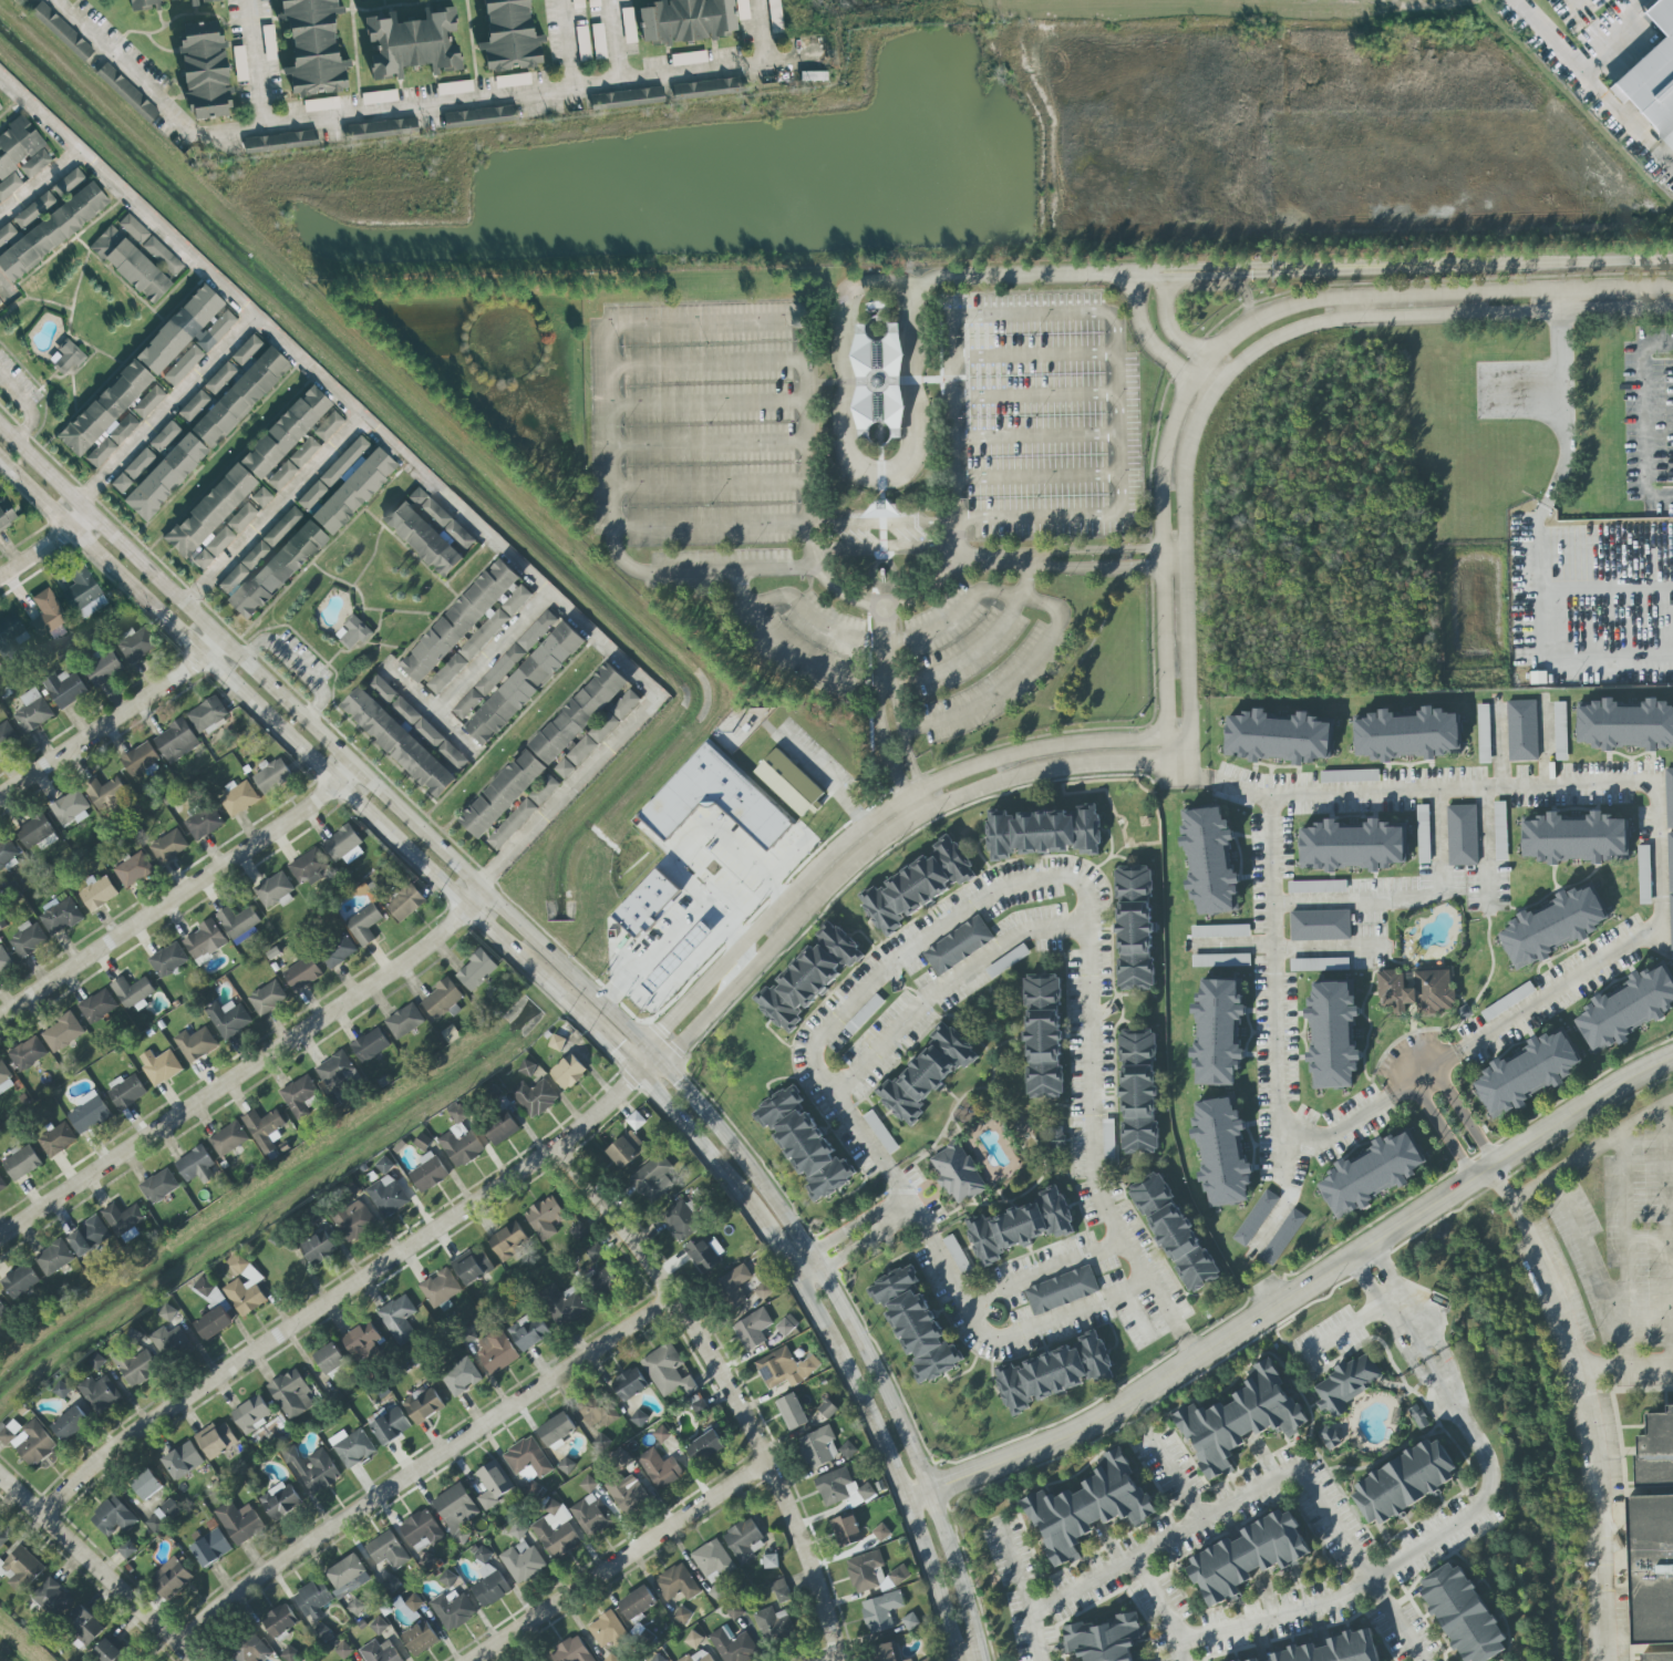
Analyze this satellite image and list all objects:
building: (199, 1)
building: (143, 4)
building: (686, 17)
building: (628, 24)
building: (61, 30)
building: (509, 35)
road: (621, 41)
building: (269, 42)
building: (412, 42)
building: (582, 42)
road: (567, 44)
building: (313, 47)
building: (688, 56)
road: (254, 64)
building: (205, 70)
building: (813, 75)
building: (1652, 75)
building: (512, 79)
road: (1590, 85)
building: (454, 86)
building: (703, 87)
building: (126, 92)
building: (379, 96)
building: (627, 97)
building: (320, 103)
building: (0, 107)
road: (416, 110)
building: (479, 115)
building: (380, 128)
building: (280, 141)
building: (22, 148)
building: (68, 182)
road: (39, 183)
building: (9, 185)
building: (34, 209)
building: (52, 230)
building: (7, 234)
building: (151, 246)
building: (131, 264)
road: (1418, 264)
road: (1152, 271)
road: (1021, 274)
road: (4, 291)
road: (851, 291)
road: (1432, 293)
road: (1248, 297)
road: (761, 299)
building: (0, 301)
road: (1355, 307)
road: (1433, 316)
road: (1168, 323)
building: (187, 329)
road: (1146, 333)
road: (1657, 344)
building: (246, 350)
road: (1034, 354)
building: (66, 355)
road: (703, 360)
building: (183, 364)
road: (1200, 367)
road: (1217, 368)
building: (219, 378)
building: (878, 379)
road: (934, 379)
road: (878, 380)
road: (1206, 382)
road: (34, 393)
road: (1034, 395)
building: (240, 396)
building: (148, 401)
road: (704, 402)
building: (194, 405)
road: (165, 410)
building: (106, 415)
parking lot: (1042, 419)
road: (1644, 420)
parking lot: (1649, 423)
building: (328, 425)
parking lot: (700, 427)
building: (285, 431)
building: (164, 435)
road: (1036, 435)
road: (705, 442)
road: (1153, 452)
road: (1117, 453)
building: (133, 470)
road: (910, 471)
road: (422, 473)
building: (165, 475)
road: (880, 475)
road: (1037, 476)
building: (352, 482)
road: (708, 483)
building: (311, 495)
road: (1659, 495)
building: (260, 496)
road: (610, 503)
road: (1543, 505)
road: (276, 509)
road: (819, 510)
building: (6, 514)
road: (76, 516)
road: (946, 516)
building: (241, 517)
building: (209, 518)
road: (708, 523)
building: (281, 526)
building: (431, 532)
road: (823, 536)
road: (959, 536)
road: (942, 547)
road: (34, 548)
road: (888, 553)
road: (1161, 555)
building: (244, 567)
building: (278, 569)
road: (1181, 570)
road: (1026, 586)
road: (742, 588)
building: (83, 592)
road: (1030, 599)
building: (516, 601)
road: (890, 607)
building: (47, 612)
building: (461, 620)
road: (814, 620)
road: (936, 628)
building: (354, 632)
building: (484, 635)
building: (9, 637)
road: (900, 637)
building: (137, 644)
road: (214, 644)
road: (493, 657)
parking lot: (909, 658)
road: (309, 659)
road: (1570, 662)
road: (804, 663)
road: (956, 663)
building: (504, 666)
building: (104, 669)
building: (446, 674)
building: (1538, 678)
building: (525, 684)
building: (66, 690)
road: (982, 701)
road: (886, 702)
road: (903, 709)
road: (433, 711)
building: (33, 712)
building: (579, 713)
building: (207, 715)
building: (417, 723)
road: (102, 724)
road: (281, 725)
building: (1625, 725)
building: (1522, 731)
building: (1560, 731)
road: (323, 732)
building: (598, 734)
building: (1484, 734)
building: (7, 735)
building: (1406, 735)
building: (1277, 737)
building: (176, 742)
building: (399, 743)
road: (998, 746)
road: (1177, 747)
building: (140, 760)
building: (1350, 776)
building: (272, 777)
building: (789, 783)
road: (1593, 786)
building: (104, 792)
building: (503, 794)
building: (1669, 797)
building: (238, 798)
road: (923, 799)
road: (942, 802)
building: (70, 807)
building: (712, 809)
building: (524, 813)
building: (204, 823)
road: (868, 825)
building: (1500, 830)
building: (35, 833)
building: (1043, 833)
building: (1424, 834)
building: (1463, 835)
road: (694, 836)
building: (1574, 838)
building: (168, 846)
building: (345, 846)
building: (1351, 847)
building: (7, 852)
building: (1209, 862)
building: (309, 867)
building: (133, 869)
building: (1644, 875)
building: (1671, 884)
building: (917, 886)
building: (1318, 887)
road: (179, 891)
road: (1471, 891)
building: (275, 893)
building: (97, 894)
road: (475, 894)
road: (1319, 897)
road: (753, 899)
building: (405, 902)
building: (646, 904)
building: (60, 916)
building: (239, 924)
building: (364, 925)
building: (1320, 926)
building: (1552, 927)
building: (1135, 930)
road: (668, 931)
building: (1220, 931)
building: (29, 939)
building: (205, 940)
building: (958, 946)
road: (1324, 946)
building: (337, 951)
road: (748, 955)
building: (168, 960)
building: (1221, 960)
building: (4, 961)
building: (1319, 964)
building: (476, 971)
building: (302, 973)
road: (743, 978)
building: (808, 978)
road: (949, 988)
building: (1417, 991)
building: (133, 992)
building: (268, 998)
building: (442, 1000)
road: (1097, 1005)
building: (97, 1007)
building: (1626, 1009)
building: (865, 1014)
building: (228, 1019)
building: (404, 1021)
road: (1279, 1025)
road: (701, 1028)
building: (62, 1033)
building: (1218, 1033)
road: (603, 1034)
building: (1043, 1035)
building: (1332, 1036)
building: (558, 1043)
building: (195, 1044)
building: (370, 1045)
building: (28, 1054)
road: (646, 1058)
building: (159, 1066)
building: (527, 1069)
road: (655, 1070)
building: (568, 1072)
road: (237, 1073)
building: (339, 1073)
building: (927, 1074)
building: (1527, 1074)
road: (1428, 1077)
building: (4, 1079)
building: (126, 1092)
building: (1138, 1092)
building: (300, 1096)
building: (536, 1097)
building: (87, 1114)
road: (1465, 1118)
building: (634, 1121)
building: (265, 1129)
building: (502, 1129)
road: (1442, 1134)
building: (1053, 1138)
building: (56, 1139)
building: (229, 1139)
building: (1108, 1139)
building: (805, 1144)
building: (626, 1149)
road: (1591, 1151)
building: (1221, 1153)
building: (22, 1163)
building: (196, 1166)
road: (720, 1166)
building: (428, 1173)
building: (958, 1174)
building: (1371, 1175)
building: (652, 1178)
road: (897, 1183)
building: (2, 1186)
building: (159, 1186)
building: (388, 1197)
road: (1287, 1197)
road: (910, 1205)
building: (123, 1218)
building: (545, 1218)
building: (1254, 1218)
building: (681, 1220)
building: (354, 1222)
road: (858, 1225)
road: (921, 1225)
building: (1021, 1226)
building: (580, 1230)
building: (1174, 1232)
building: (89, 1237)
building: (1282, 1237)
road: (1667, 1237)
building: (508, 1241)
road: (869, 1242)
parking lot: (1623, 1245)
building: (318, 1248)
building: (592, 1250)
road: (1628, 1250)
building: (701, 1255)
building: (54, 1258)
road: (801, 1260)
building: (472, 1267)
road: (1387, 1269)
road: (1594, 1270)
road: (1049, 1275)
road: (810, 1278)
building: (602, 1279)
building: (20, 1281)
road: (1366, 1281)
building: (734, 1287)
building: (245, 1288)
building: (440, 1288)
building: (1062, 1290)
building: (763, 1291)
road: (1298, 1291)
road: (342, 1292)
road: (1391, 1300)
building: (565, 1304)
road: (1173, 1310)
building: (2, 1311)
building: (213, 1311)
building: (168, 1312)
building: (399, 1320)
building: (916, 1324)
building: (786, 1325)
building: (753, 1329)
road: (855, 1330)
road: (1339, 1331)
building: (528, 1332)
road: (1425, 1335)
building: (169, 1342)
building: (362, 1342)
road: (1190, 1348)
road: (1406, 1349)
building: (496, 1351)
building: (330, 1359)
building: (138, 1368)
building: (785, 1368)
road: (1626, 1370)
building: (667, 1371)
building: (1054, 1373)
building: (461, 1378)
building: (1346, 1381)
building: (629, 1384)
road: (726, 1389)
building: (62, 1390)
building: (100, 1393)
building: (291, 1394)
building: (696, 1403)
road: (1587, 1404)
building: (423, 1405)
building: (828, 1409)
building: (597, 1411)
building: (792, 1412)
building: (251, 1414)
building: (1241, 1415)
building: (1418, 1417)
building: (639, 1418)
building: (71, 1424)
building: (390, 1424)
building: (557, 1430)
building: (661, 1434)
building: (1329, 1438)
building: (216, 1441)
building: (601, 1443)
building: (705, 1445)
building: (352, 1447)
building: (818, 1447)
building: (847, 1449)
road: (891, 1456)
building: (1656, 1456)
building: (527, 1458)
building: (183, 1461)
building: (567, 1466)
building: (660, 1468)
building: (311, 1469)
road: (426, 1471)
building: (1405, 1474)
road: (1174, 1476)
road: (1264, 1483)
building: (147, 1485)
building: (493, 1485)
building: (588, 1485)
building: (841, 1488)
building: (628, 1493)
building: (280, 1500)
building: (1087, 1502)
building: (456, 1510)
building: (163, 1516)
building: (590, 1516)
building: (113, 1517)
building: (239, 1523)
building: (847, 1530)
building: (421, 1531)
building: (556, 1531)
building: (881, 1533)
building: (3, 1538)
building: (744, 1540)
building: (211, 1548)
building: (1248, 1548)
building: (127, 1550)
building: (388, 1550)
building: (482, 1555)
building: (521, 1561)
road: (620, 1561)
building: (713, 1561)
building: (770, 1561)
road: (1397, 1561)
building: (20, 1568)
road: (100, 1568)
building: (345, 1571)
building: (864, 1571)
building: (898, 1576)
building: (1654, 1576)
building: (171, 1578)
building: (678, 1582)
building: (489, 1586)
road: (1023, 1589)
building: (781, 1591)
building: (51, 1598)
building: (313, 1599)
building: (411, 1605)
building: (638, 1605)
road: (1161, 1607)
building: (1465, 1607)
building: (453, 1611)
building: (880, 1611)
building: (681, 1616)
building: (280, 1621)
building: (910, 1621)
building: (84, 1624)
building: (379, 1626)
building: (774, 1626)
building: (607, 1630)
building: (1104, 1634)
building: (420, 1638)
building: (694, 1639)
building: (1330, 1648)
building: (251, 1650)
building: (570, 1651)
building: (380, 1652)
building: (887, 1652)
building: (109, 1653)
building: (699, 1655)
building: (655, 1658)
building: (928, 1659)
building: (351, 1660)
building: (543, 1660)
building: (1226, 1660)

